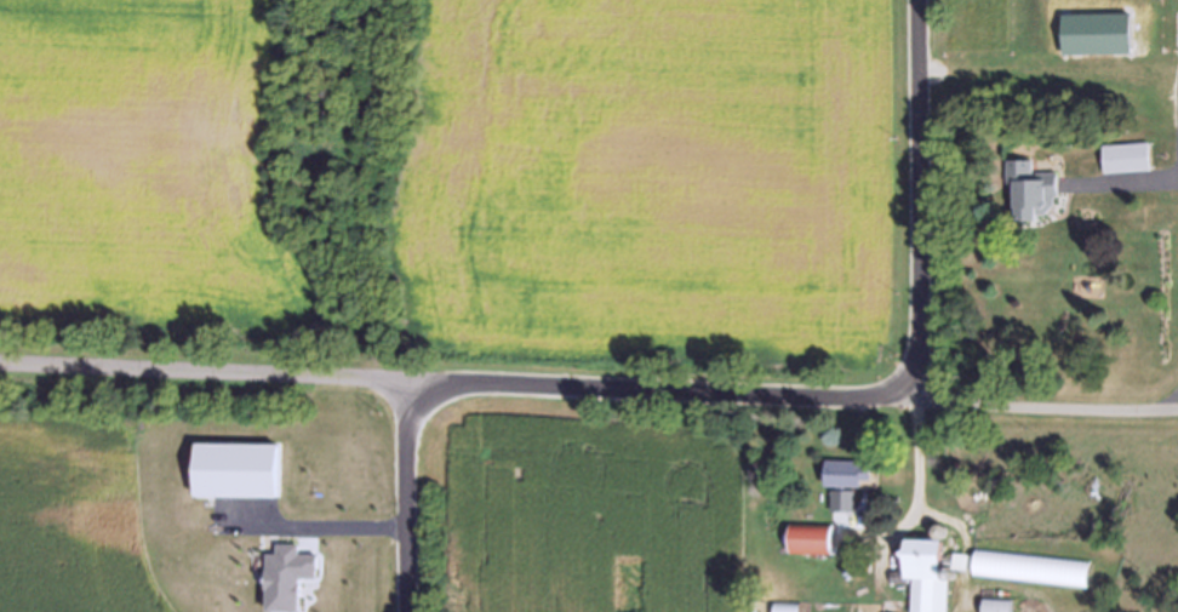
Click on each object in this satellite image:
road: (1153, 179)
building: (1034, 188)
road: (914, 201)
road: (588, 393)
building: (848, 473)
road: (917, 487)
road: (404, 499)
building: (844, 501)
road: (315, 527)
building: (812, 538)
building: (927, 573)
building: (999, 605)

